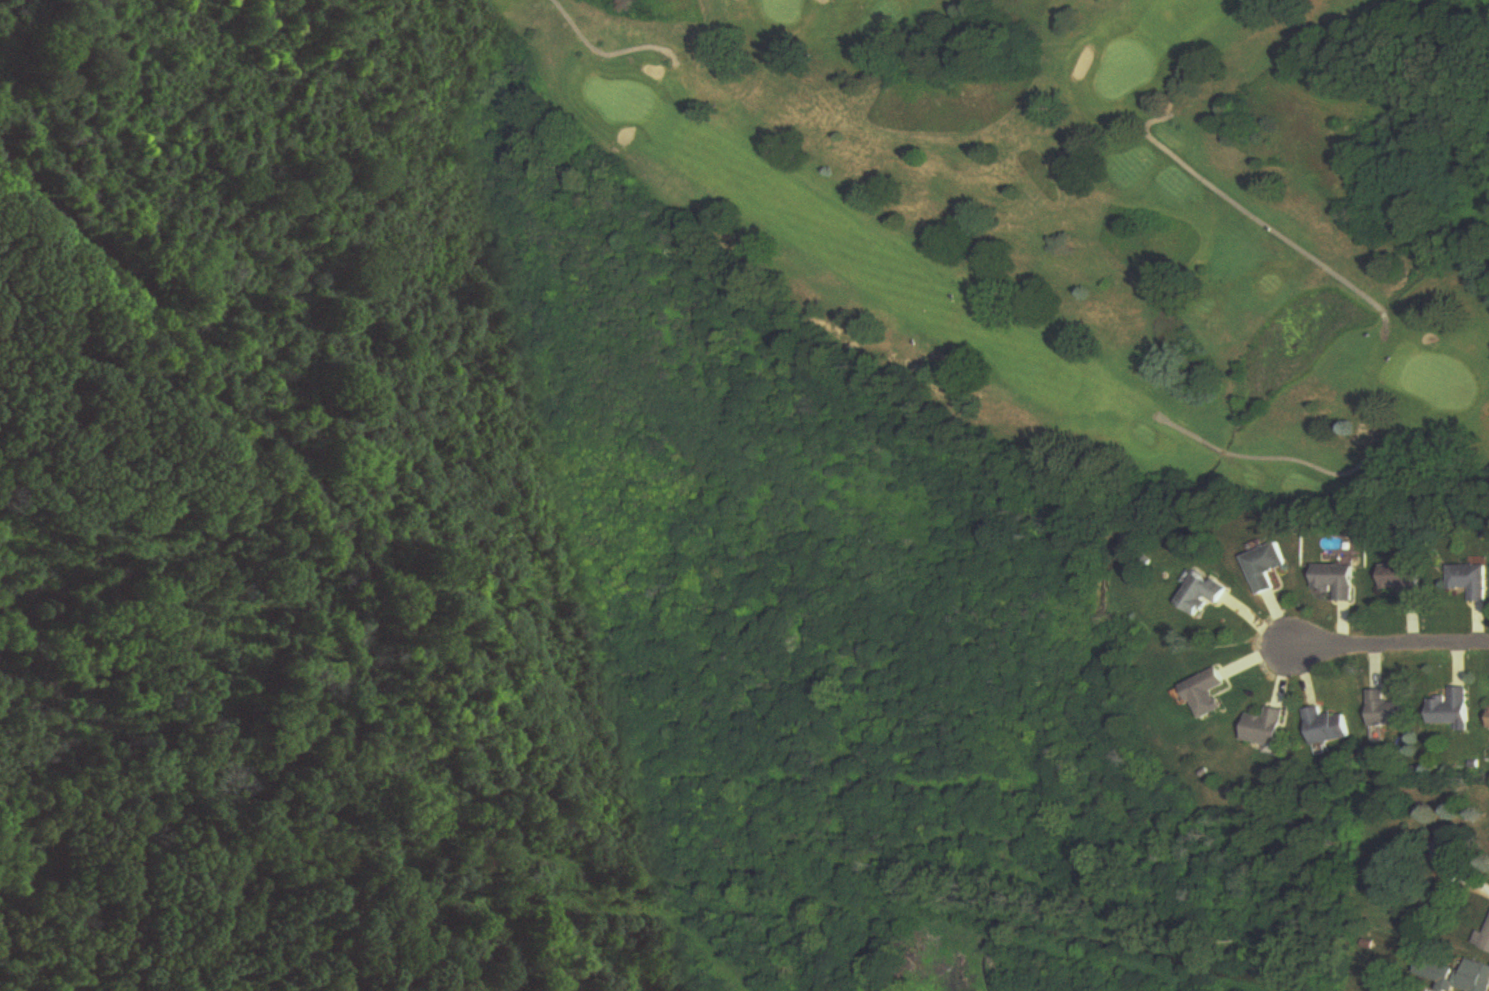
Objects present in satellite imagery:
park: (1105, 219)
river: (1349, 321)
river: (1223, 455)
river: (1152, 525)
building: (1265, 568)
building: (1404, 581)
building: (1470, 581)
building: (1335, 582)
building: (1202, 595)
road: (1373, 644)
building: (1203, 694)
building: (1453, 710)
building: (1386, 711)
building: (1327, 727)
building: (1266, 728)
road: (1482, 886)
building: (1482, 940)
building: (1474, 976)

